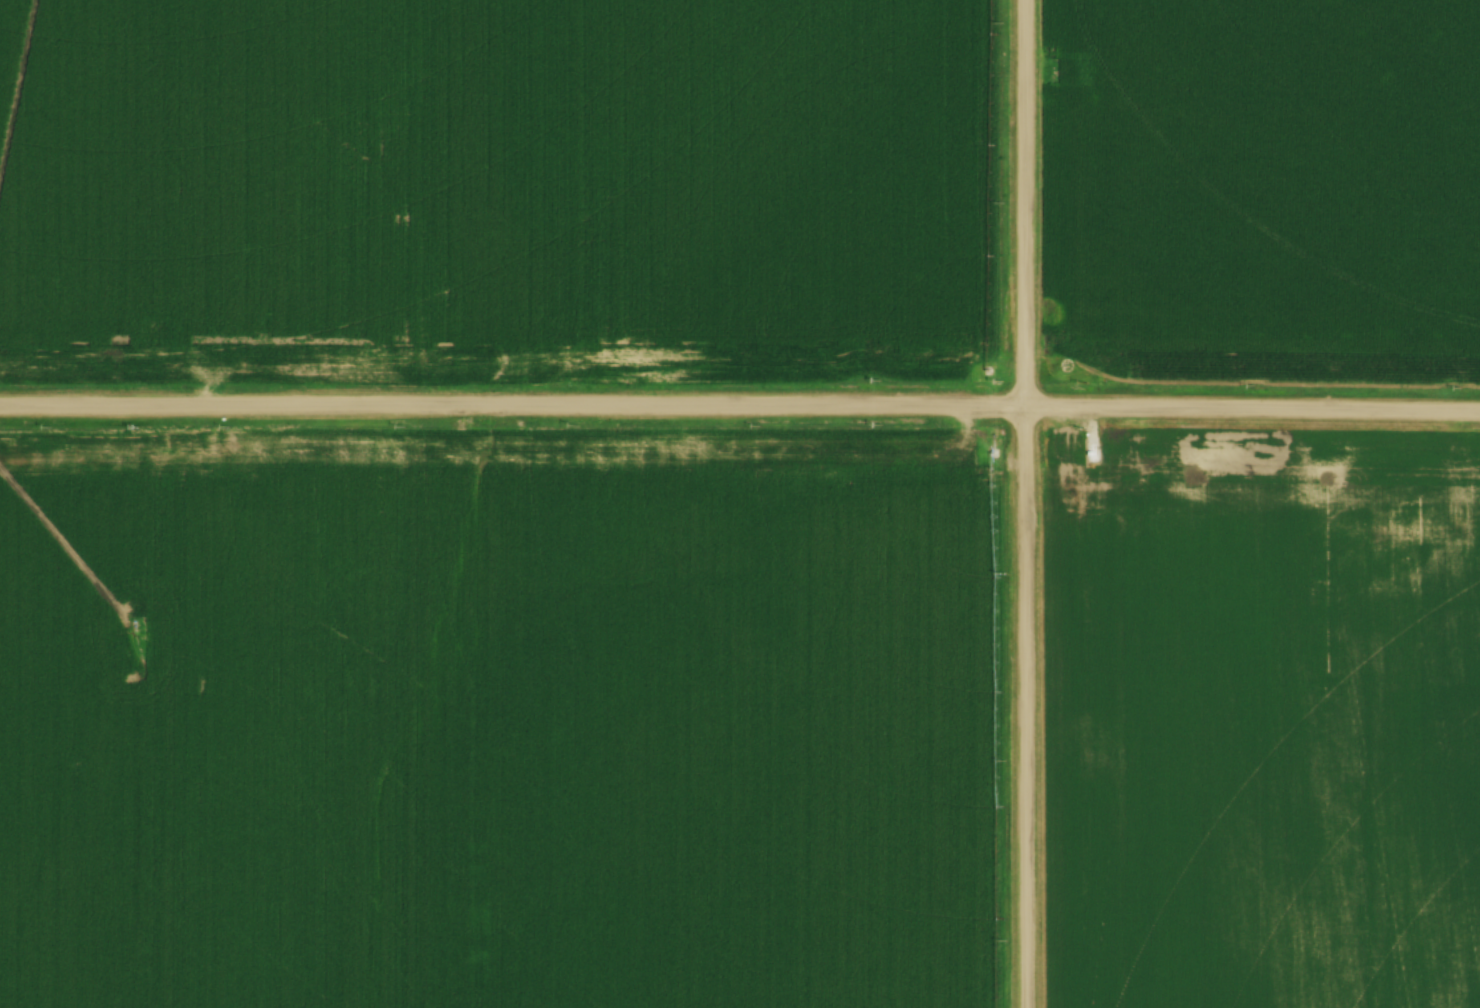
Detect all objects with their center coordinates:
road: (740, 408)
road: (1018, 503)

